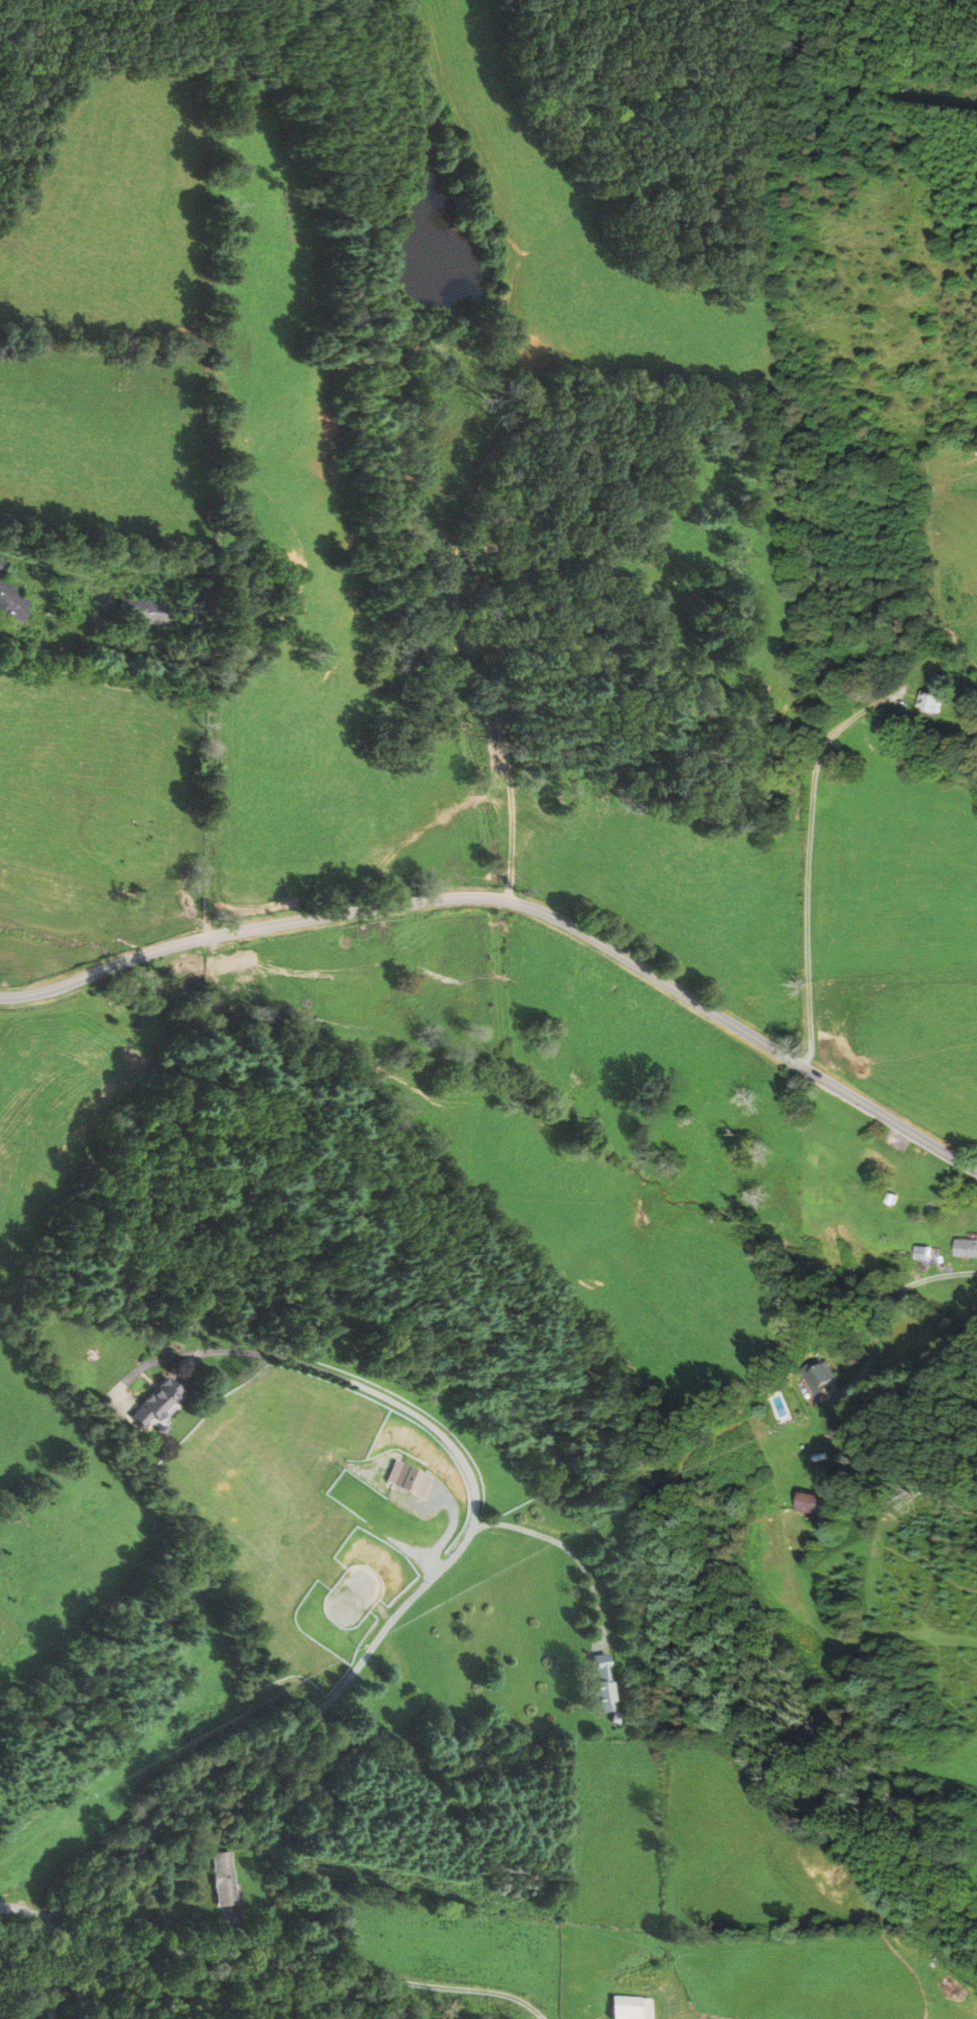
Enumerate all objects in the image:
building: (3, 563)
building: (12, 600)
building: (145, 608)
road: (469, 642)
road: (59, 649)
building: (925, 700)
road: (808, 863)
road: (518, 901)
building: (867, 1162)
building: (961, 1249)
building: (913, 1254)
road: (927, 1277)
building: (807, 1378)
building: (163, 1404)
building: (413, 1480)
building: (797, 1505)
road: (567, 1552)
road: (425, 1585)
building: (606, 1683)
building: (226, 1879)
road: (131, 1917)
road: (271, 1978)
building: (634, 2008)

